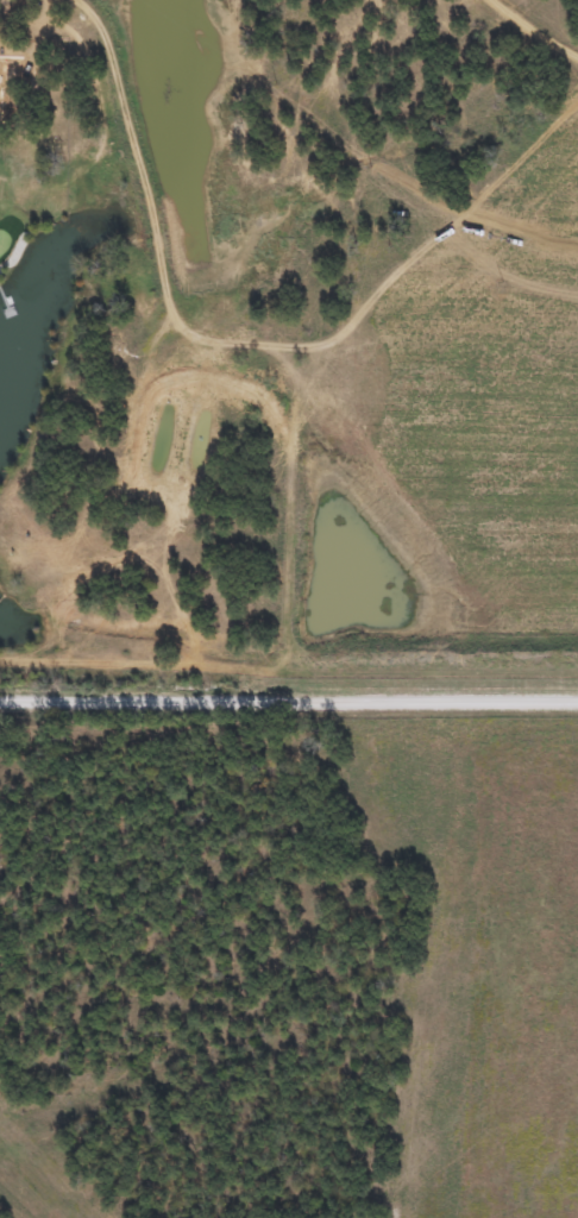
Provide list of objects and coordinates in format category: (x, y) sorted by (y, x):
road: (527, 34)
road: (289, 728)

